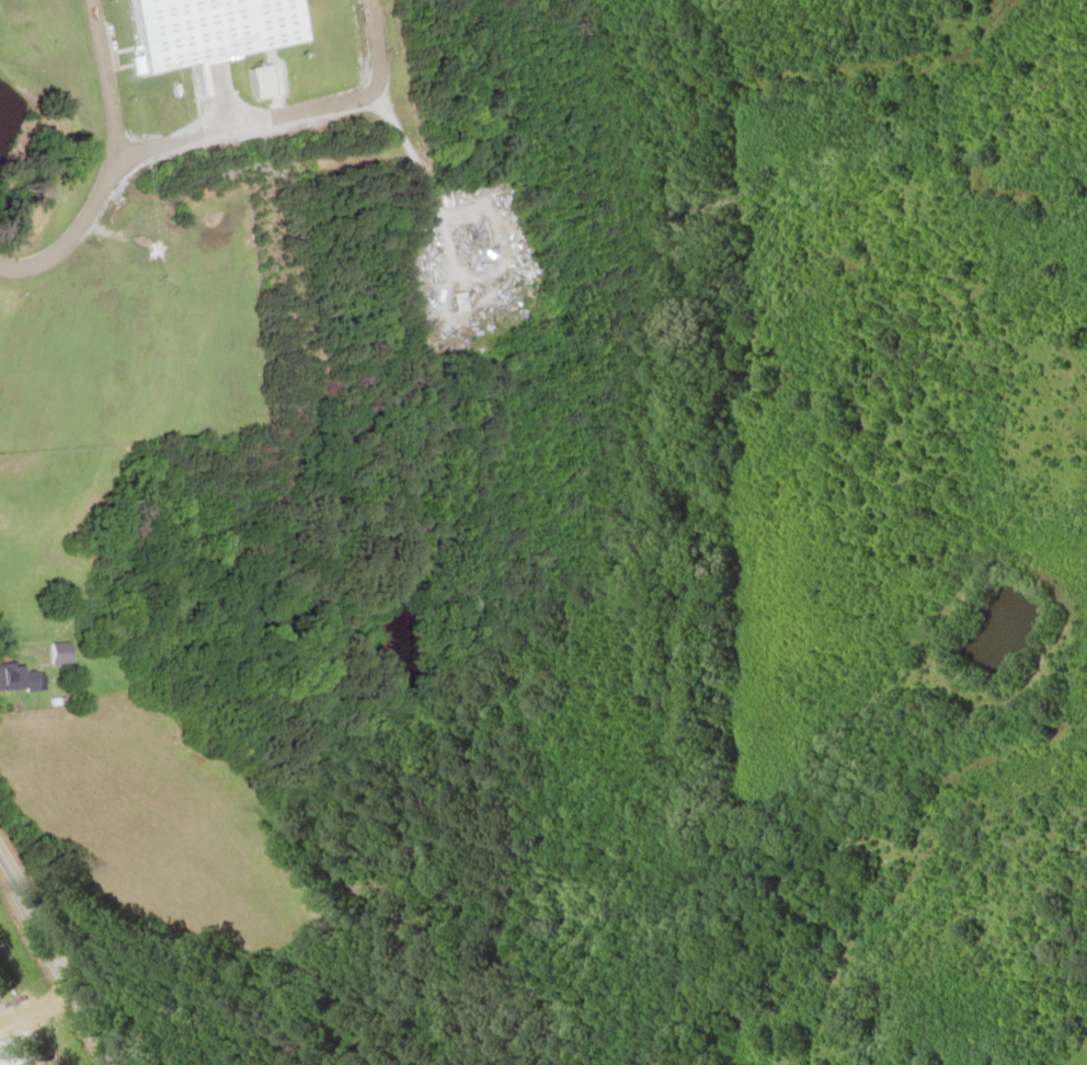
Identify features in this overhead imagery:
building: (216, 30)
building: (416, 231)
building: (445, 299)
building: (65, 654)
building: (20, 677)
road: (58, 960)

